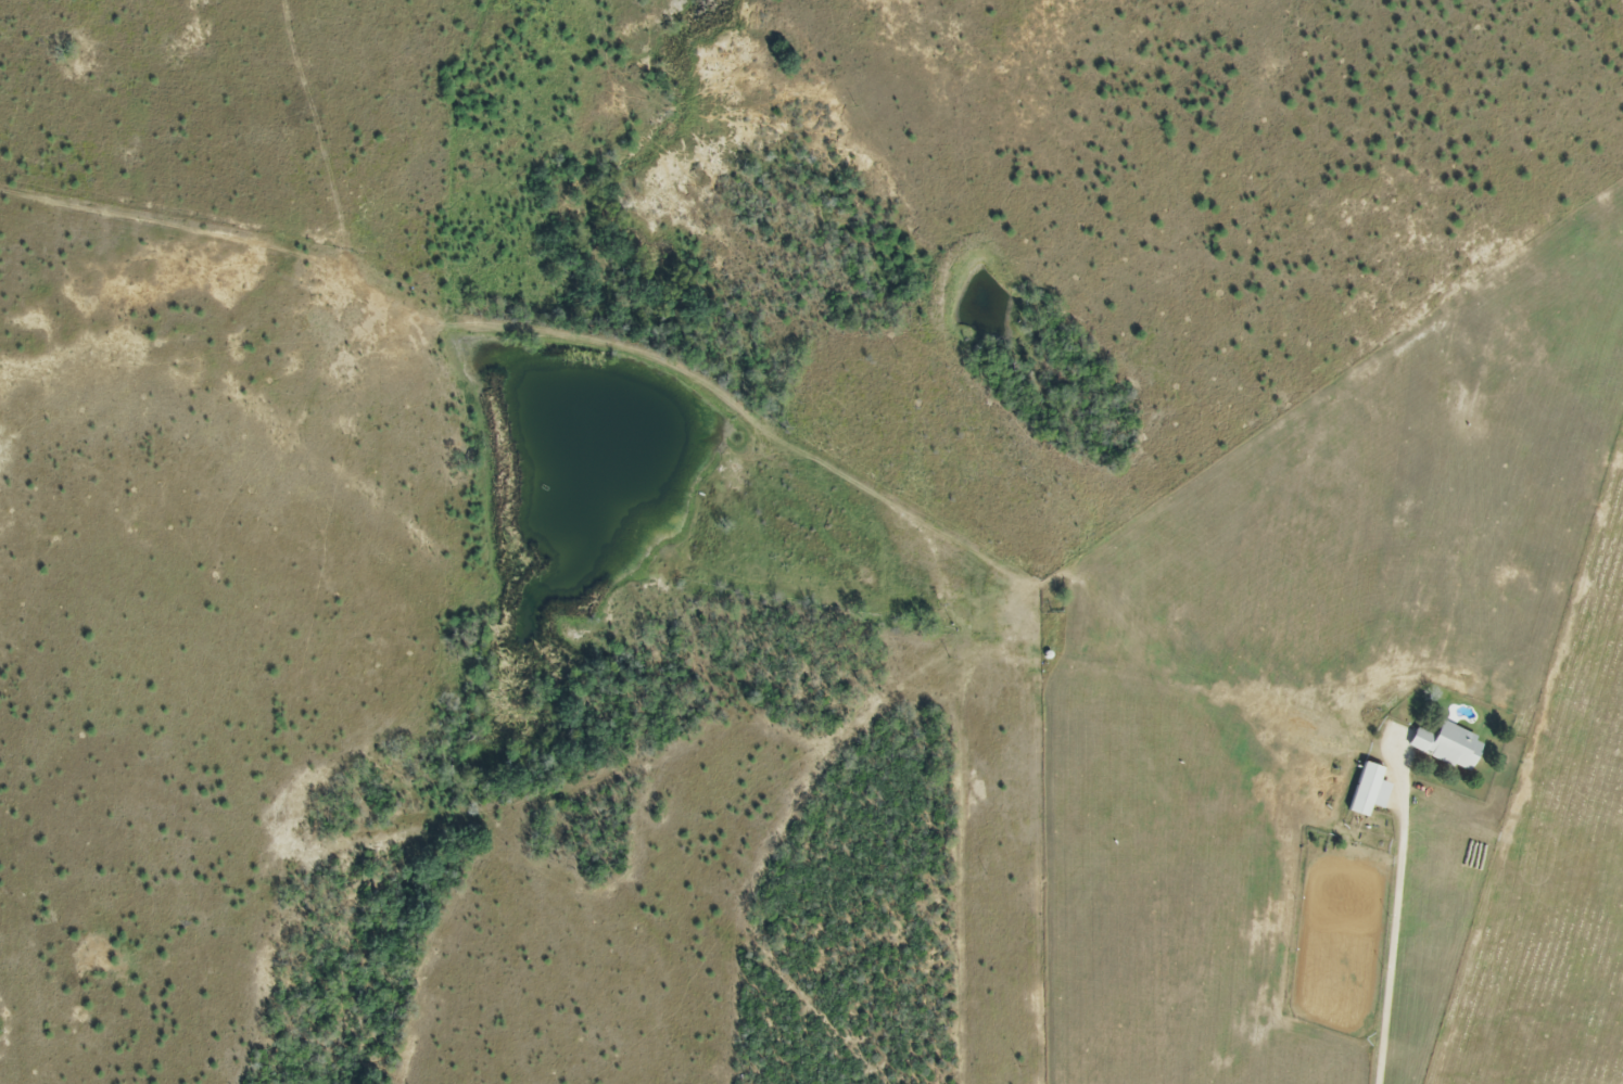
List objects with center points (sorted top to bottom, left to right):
building: (1446, 749)
building: (1366, 793)
road: (1392, 917)

